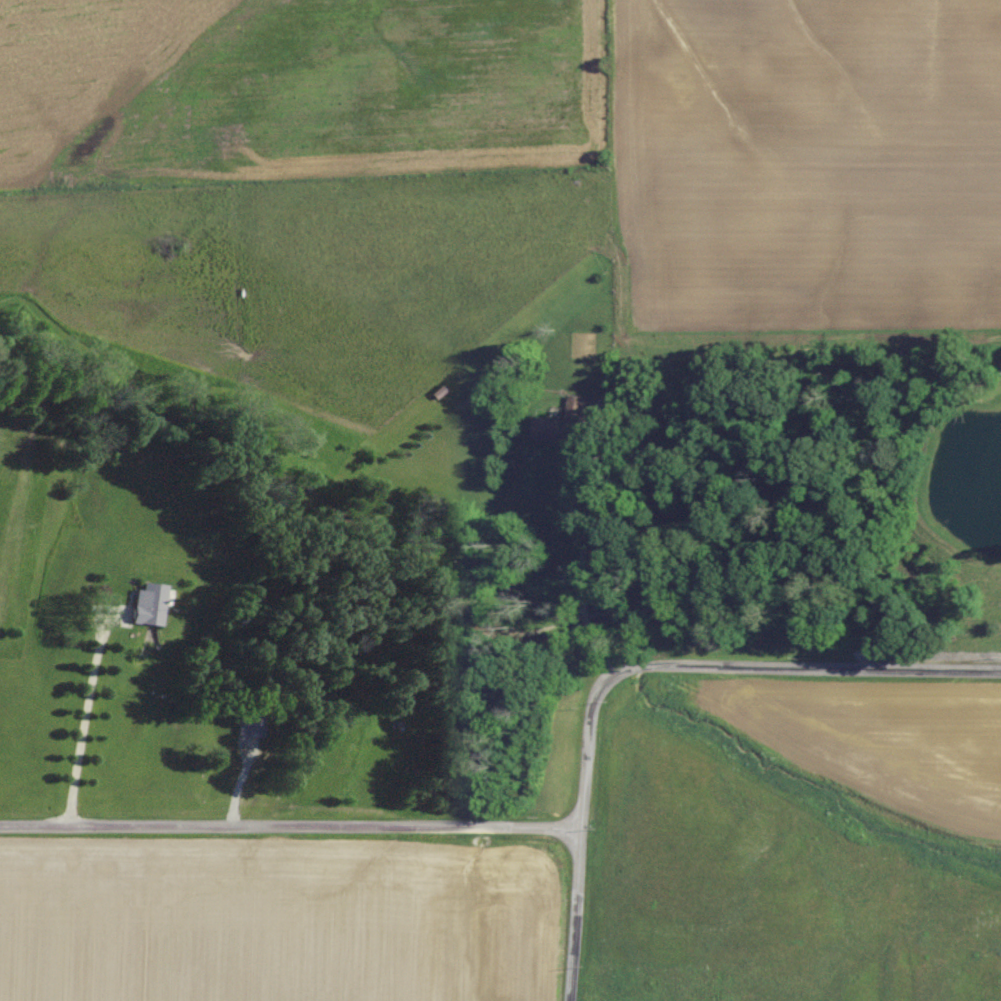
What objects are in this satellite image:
building: (566, 425)
road: (581, 563)
building: (149, 604)
road: (822, 669)
road: (84, 715)
building: (249, 723)
road: (581, 818)
road: (290, 827)

